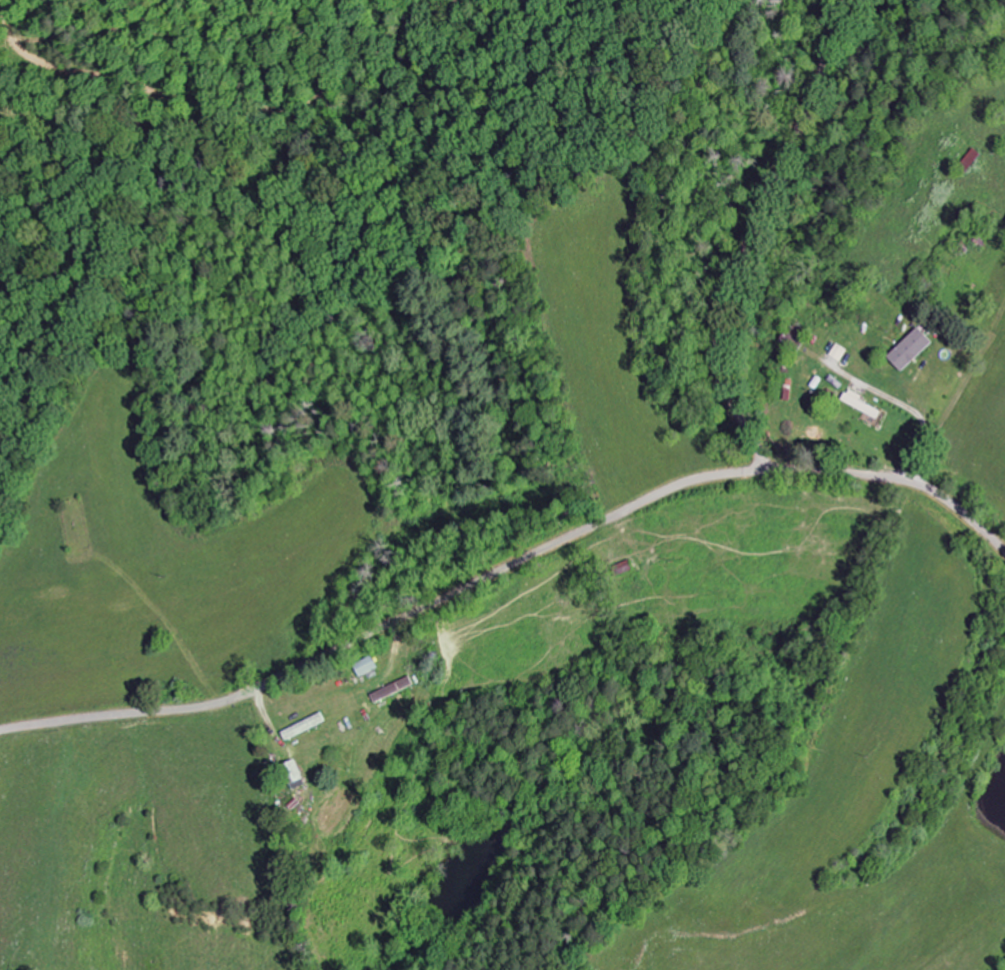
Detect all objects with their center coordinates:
road: (829, 18)
road: (752, 234)
building: (907, 349)
building: (837, 352)
building: (858, 403)
road: (508, 567)
building: (364, 667)
building: (389, 689)

